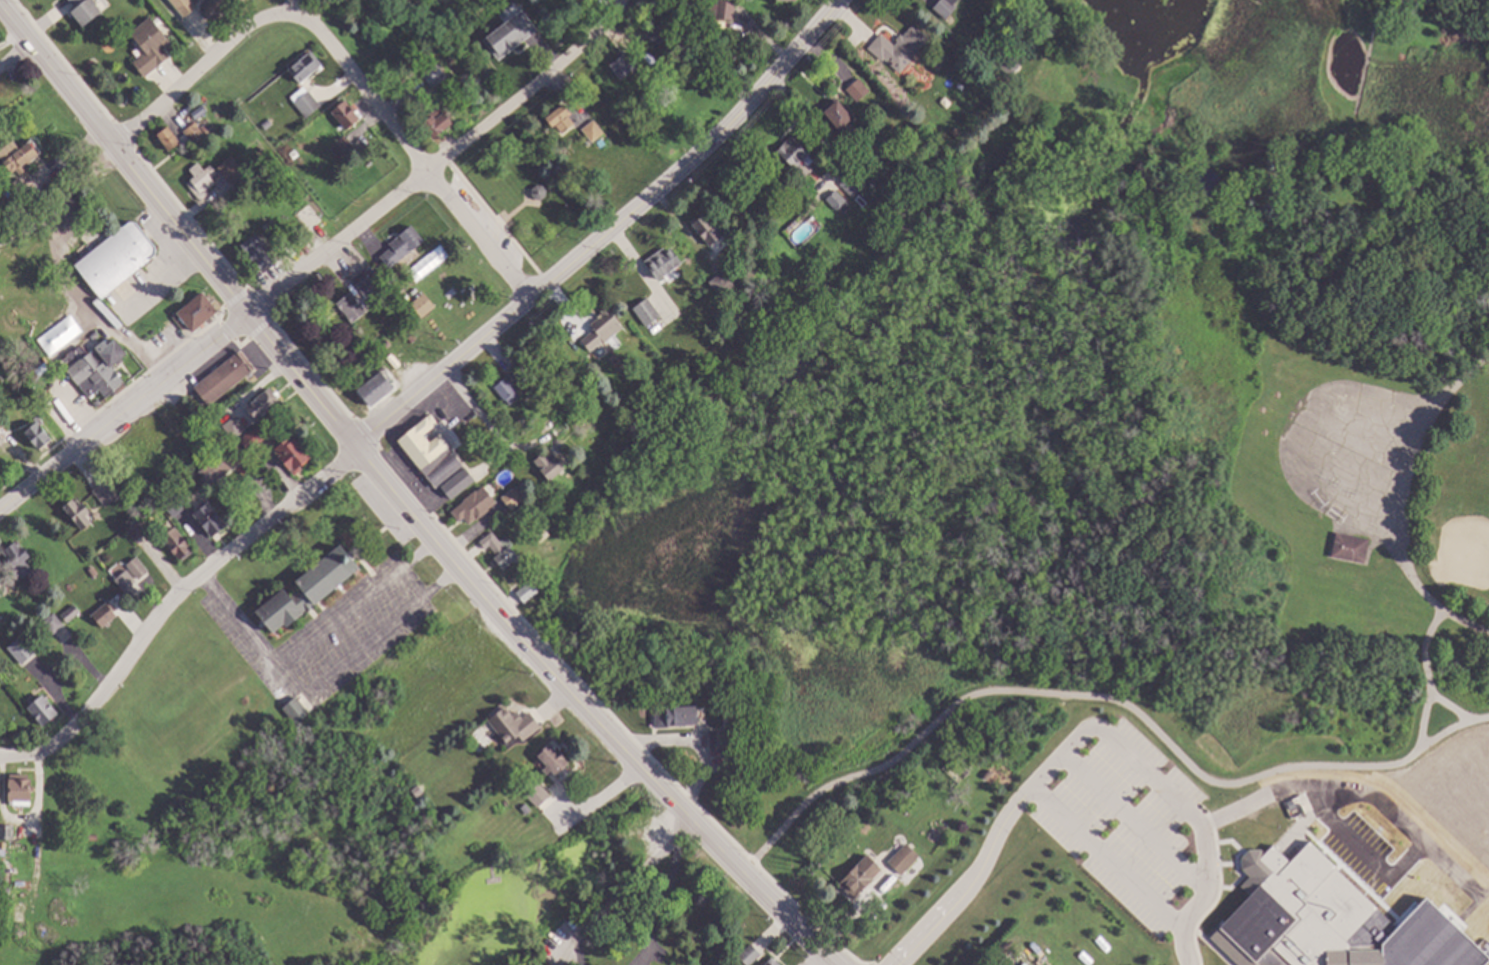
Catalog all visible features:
building: (784, 0)
road: (408, 2)
building: (185, 6)
building: (218, 6)
road: (291, 6)
road: (320, 7)
building: (946, 7)
building: (726, 9)
building: (86, 11)
building: (510, 35)
building: (656, 36)
building: (741, 43)
building: (151, 46)
building: (906, 49)
building: (625, 65)
building: (1010, 66)
building: (306, 67)
road: (196, 71)
building: (435, 75)
building: (856, 85)
building: (306, 102)
building: (632, 107)
building: (347, 115)
building: (561, 119)
building: (437, 122)
building: (843, 122)
building: (268, 123)
building: (205, 127)
building: (593, 131)
building: (193, 134)
building: (169, 138)
building: (602, 143)
building: (343, 148)
road: (411, 153)
building: (264, 154)
building: (295, 154)
building: (795, 156)
building: (882, 157)
building: (24, 158)
building: (232, 170)
building: (202, 180)
building: (269, 183)
building: (853, 184)
building: (540, 191)
building: (20, 195)
road: (61, 202)
building: (839, 202)
road: (176, 226)
building: (708, 229)
road: (607, 233)
building: (402, 247)
building: (260, 252)
building: (118, 259)
building: (667, 262)
road: (298, 272)
building: (722, 283)
building: (368, 285)
building: (451, 294)
building: (419, 305)
building: (351, 307)
building: (197, 312)
building: (647, 312)
building: (459, 322)
building: (603, 329)
building: (411, 336)
building: (96, 337)
building: (387, 343)
building: (100, 371)
building: (558, 373)
building: (225, 378)
building: (511, 386)
building: (377, 388)
building: (264, 404)
park: (1148, 407)
building: (4, 416)
building: (567, 423)
building: (2, 424)
building: (235, 428)
park: (1359, 429)
building: (39, 434)
building: (254, 438)
building: (432, 453)
building: (292, 455)
building: (223, 464)
building: (550, 465)
building: (457, 484)
building: (102, 495)
building: (514, 497)
building: (178, 502)
road: (1402, 502)
building: (475, 506)
building: (80, 514)
park: (1463, 517)
building: (211, 519)
building: (130, 524)
building: (543, 534)
building: (179, 545)
building: (1351, 547)
building: (501, 549)
building: (19, 558)
building: (138, 568)
building: (93, 572)
building: (128, 584)
building: (309, 589)
building: (528, 592)
road: (170, 601)
road: (355, 607)
building: (71, 614)
building: (105, 615)
building: (54, 624)
road: (381, 632)
road: (251, 638)
building: (18, 651)
road: (1425, 678)
road: (1105, 700)
road: (1451, 708)
building: (43, 710)
building: (296, 710)
road: (589, 713)
building: (676, 716)
building: (728, 720)
building: (513, 725)
building: (721, 738)
building: (552, 759)
road: (1032, 782)
road: (1299, 788)
building: (20, 792)
building: (539, 794)
road: (34, 804)
building: (526, 808)
road: (671, 820)
road: (1132, 820)
building: (7, 832)
building: (93, 837)
building: (876, 838)
building: (3, 845)
road: (1107, 856)
building: (9, 859)
building: (904, 859)
building: (861, 876)
building: (7, 892)
road: (615, 898)
road: (662, 901)
building: (1293, 915)
building: (751, 954)
building: (773, 962)
building: (740, 964)

